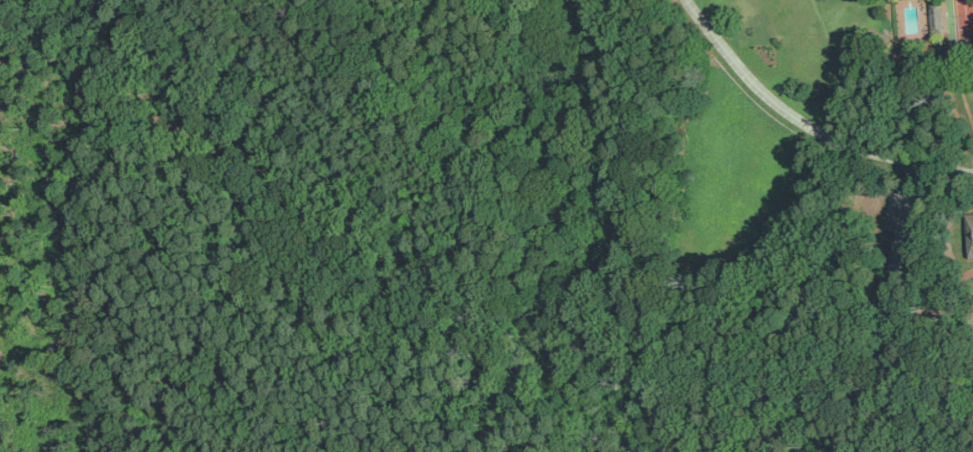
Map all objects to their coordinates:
building: (938, 15)
road: (788, 113)

